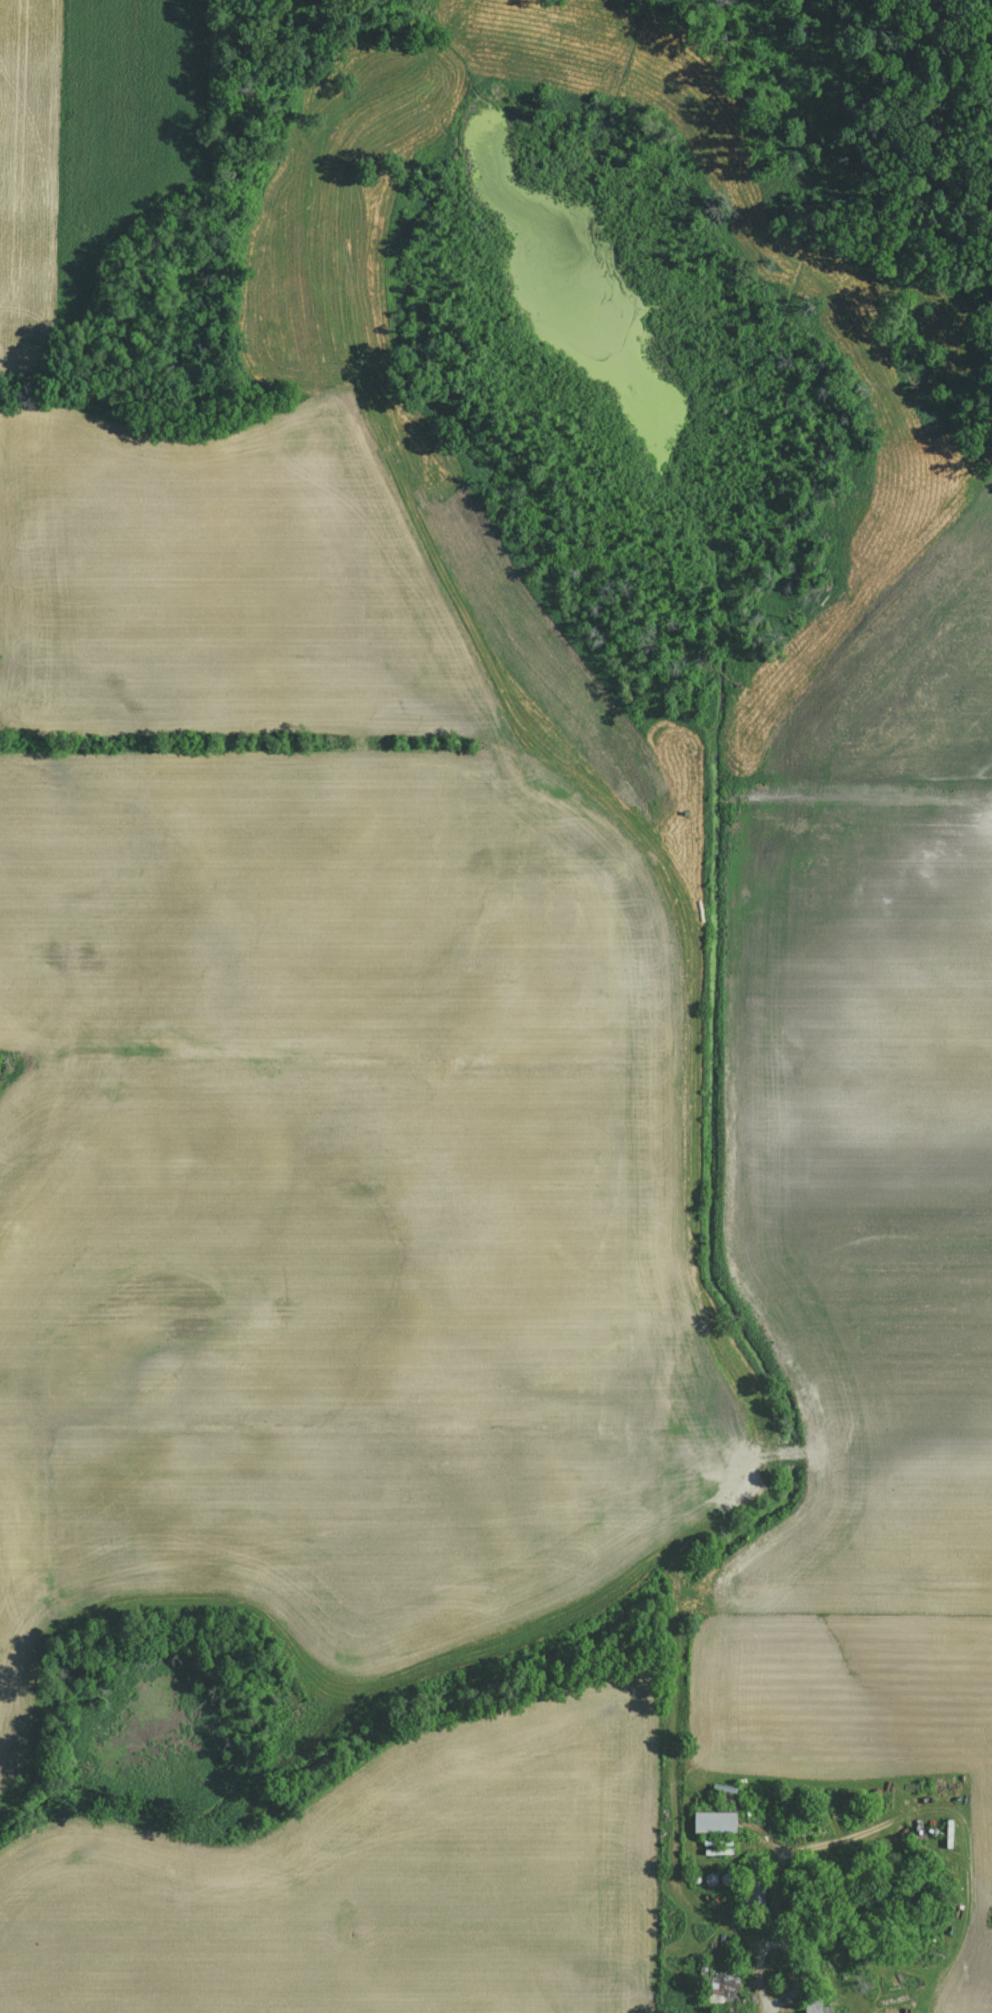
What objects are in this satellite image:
building: (712, 1821)
building: (754, 1892)
road: (772, 1932)
building: (717, 1982)
building: (815, 2005)

